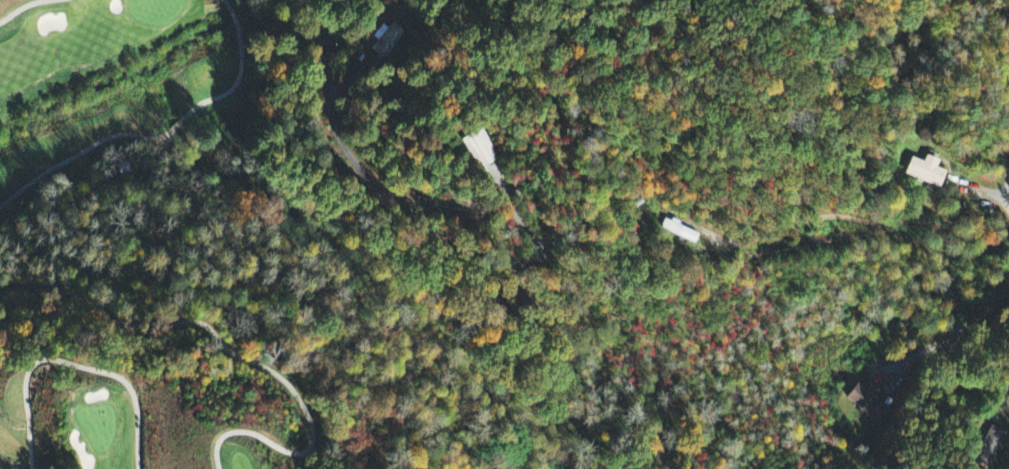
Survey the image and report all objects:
road: (29, 7)
road: (241, 72)
building: (480, 150)
road: (80, 156)
building: (923, 172)
road: (871, 223)
park: (204, 270)
road: (242, 352)
road: (74, 367)
building: (865, 400)
building: (989, 448)

